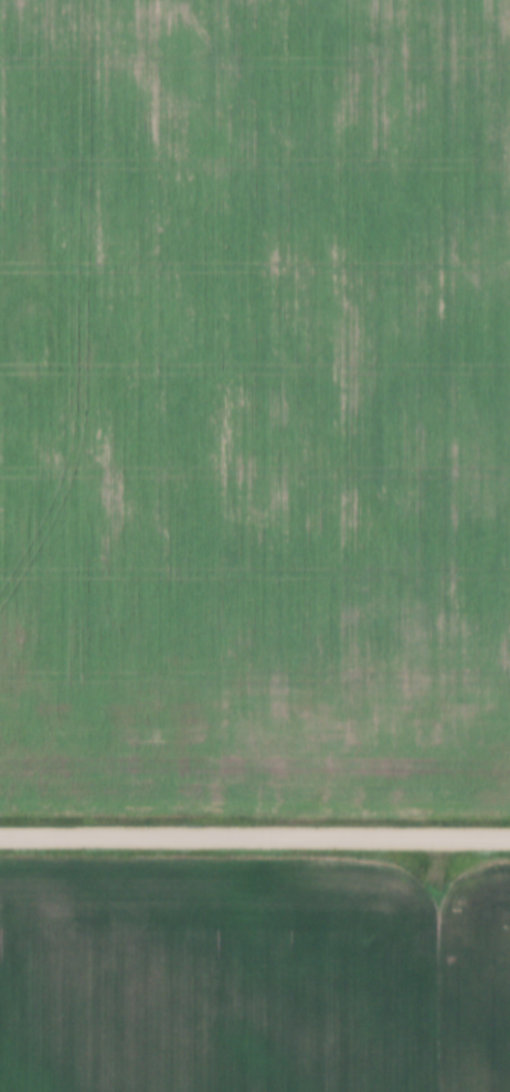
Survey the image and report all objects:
road: (254, 838)

